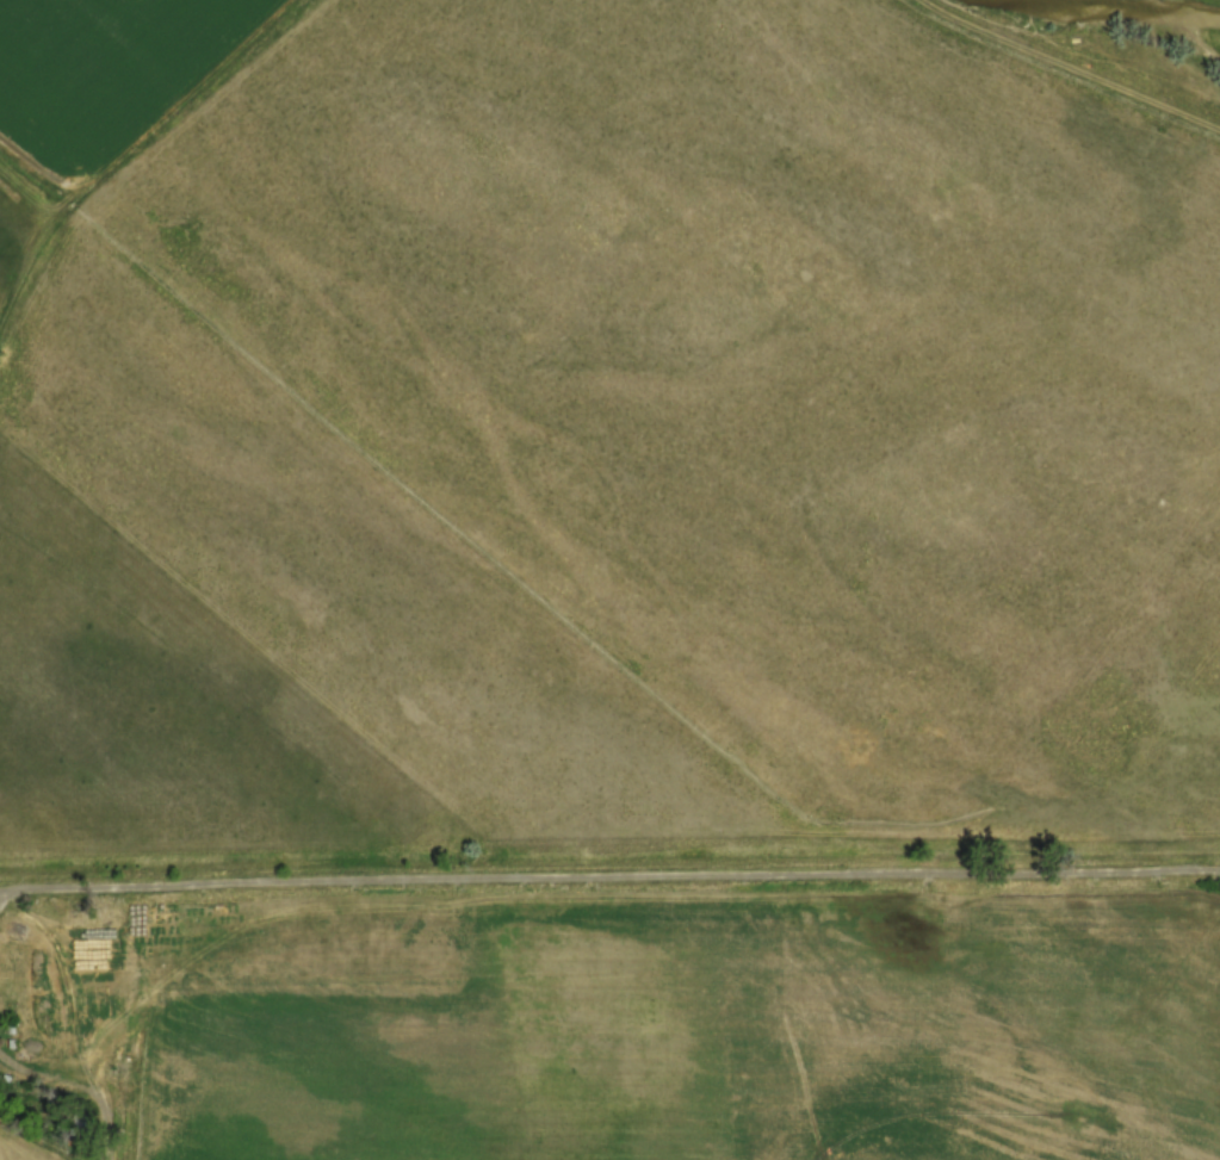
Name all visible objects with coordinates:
river: (1148, 10)
road: (609, 877)

